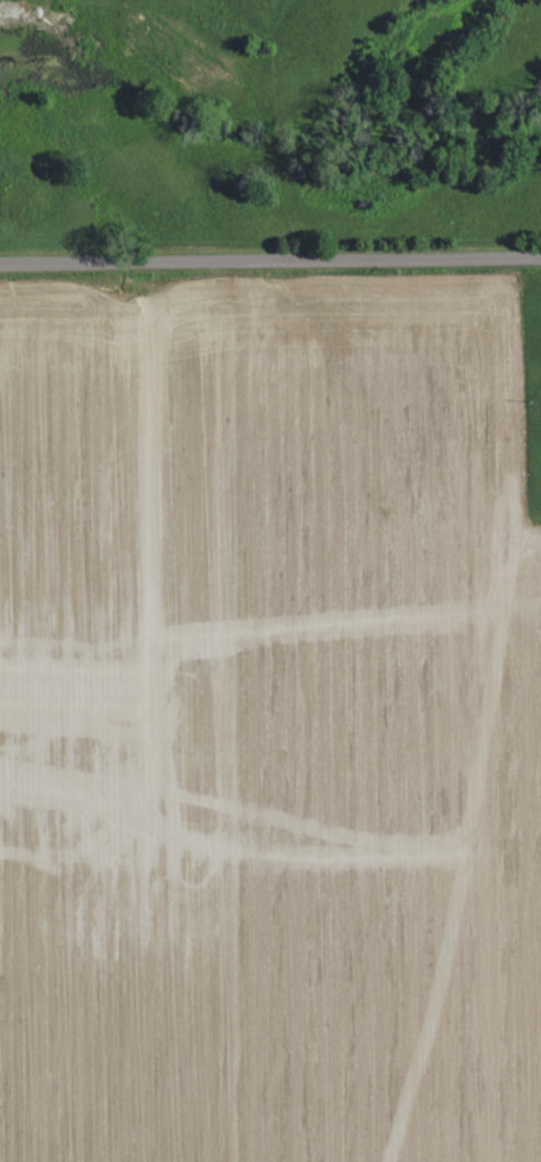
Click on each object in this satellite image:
road: (269, 261)

